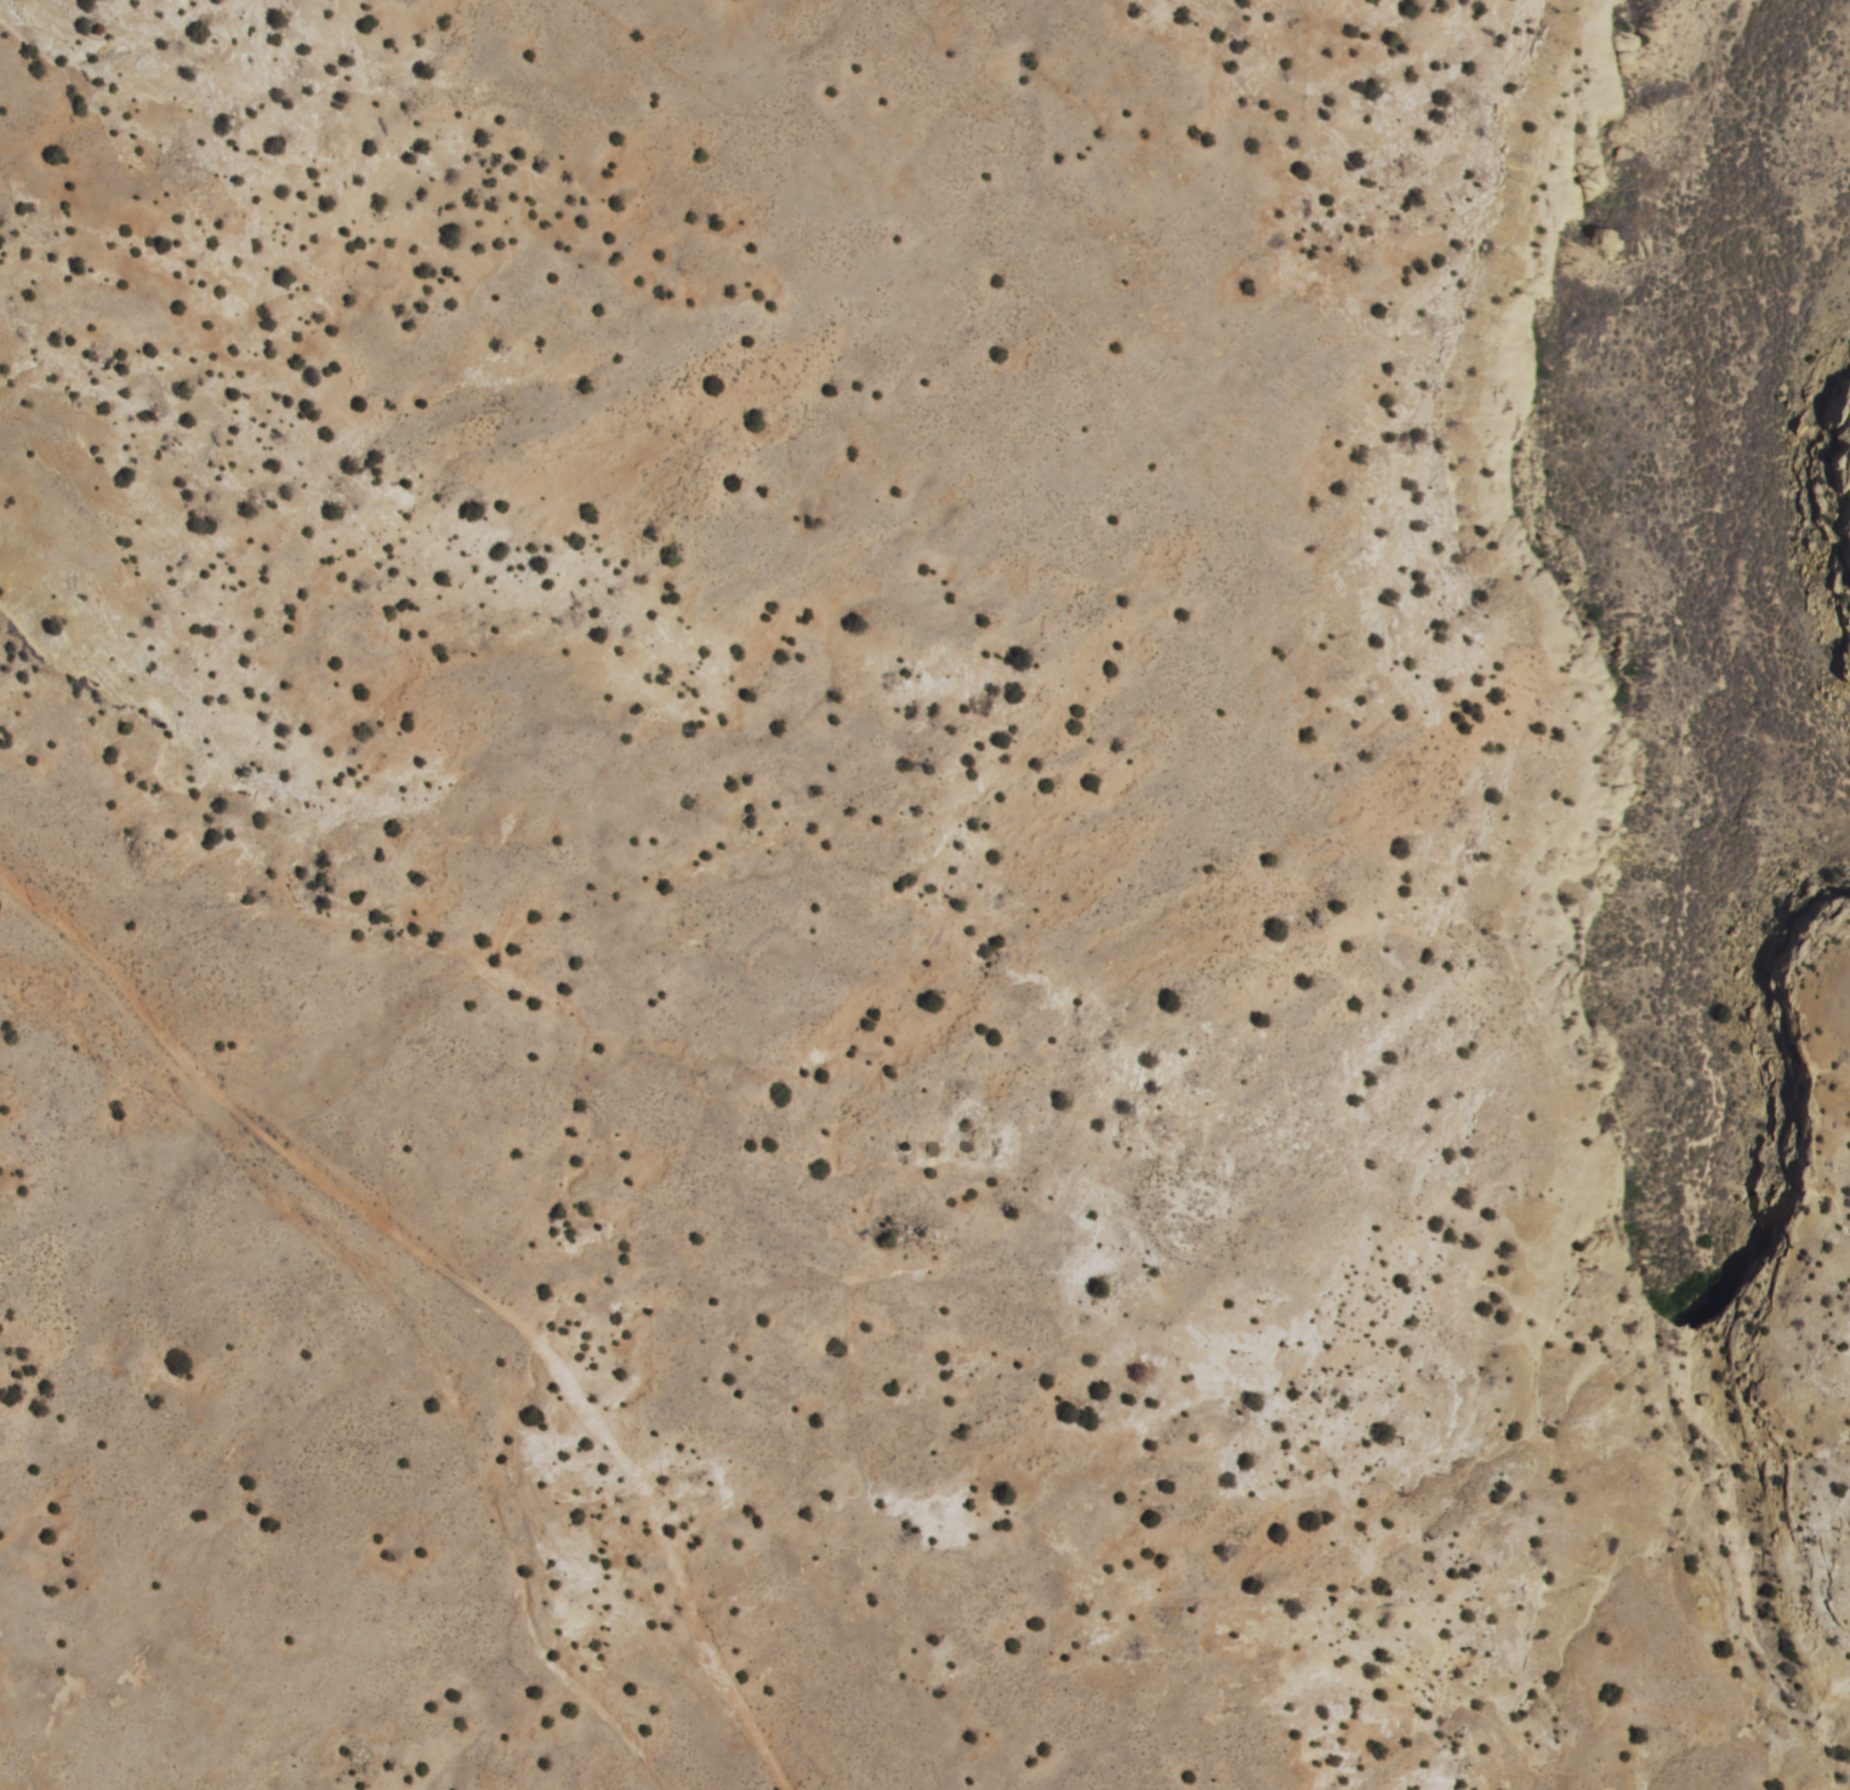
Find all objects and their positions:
road: (422, 1302)

